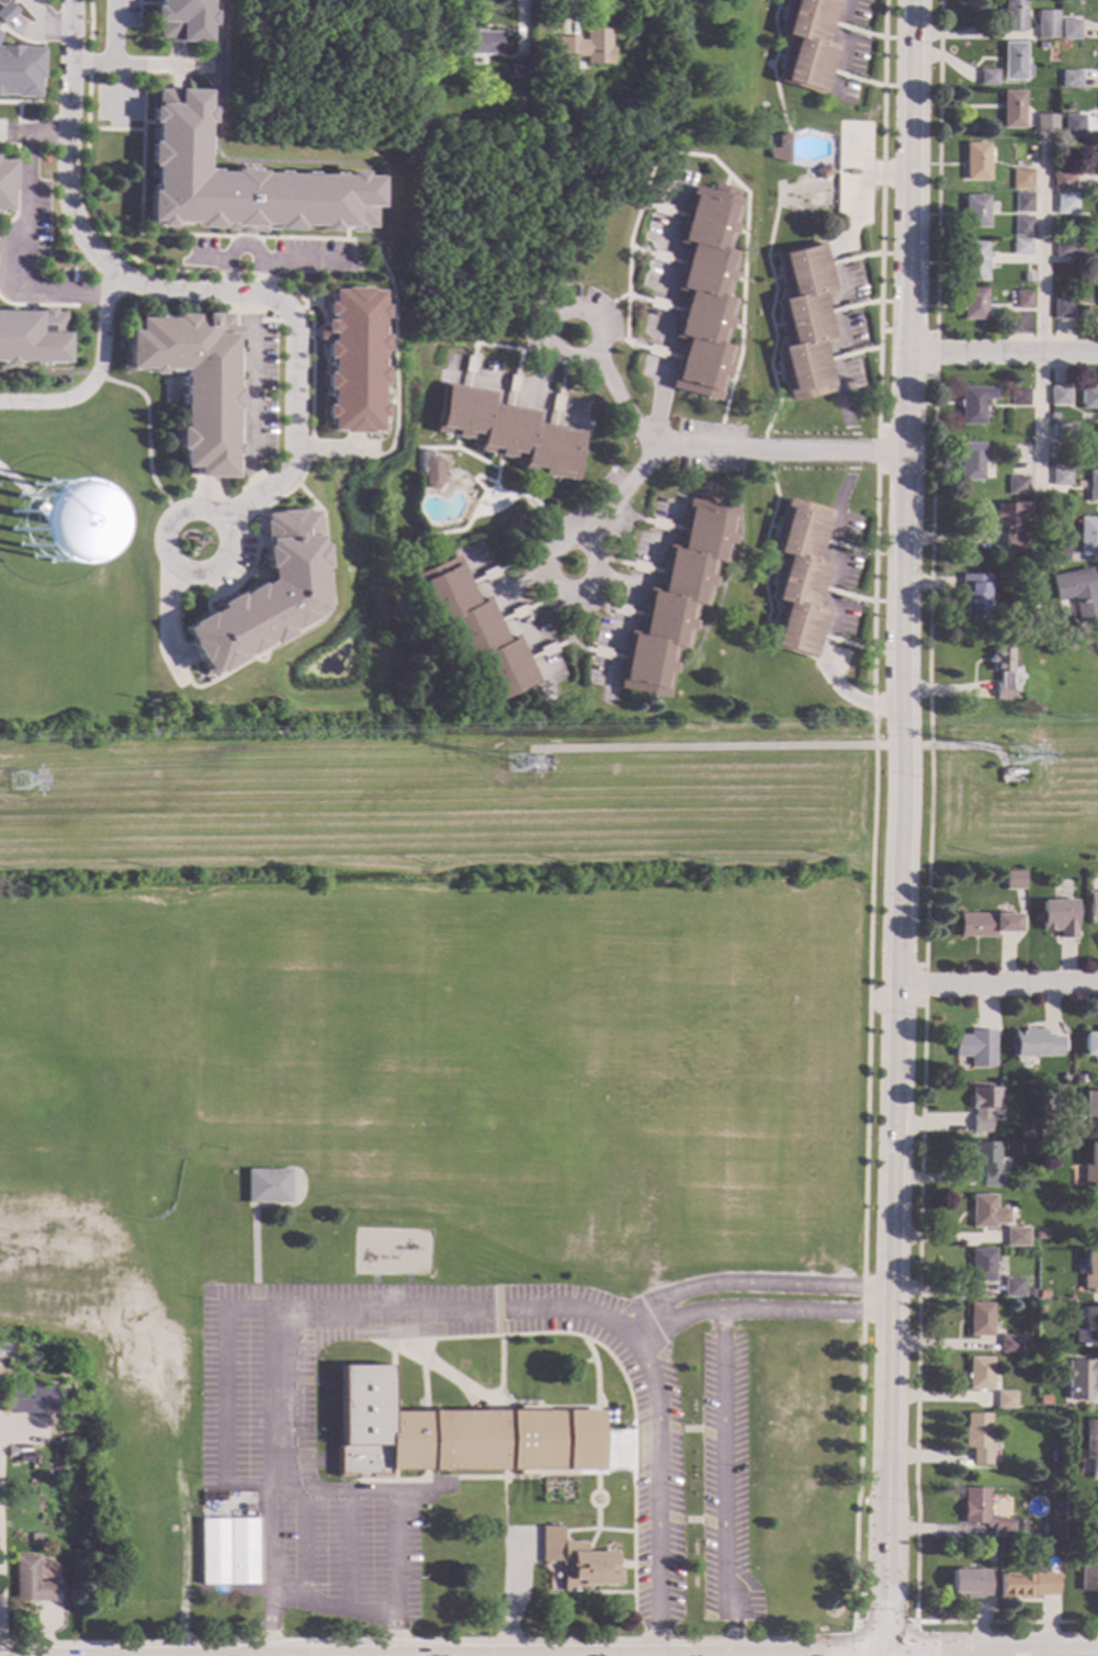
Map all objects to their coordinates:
road: (148, 2)
road: (8, 8)
road: (781, 9)
road: (35, 12)
building: (4, 13)
road: (138, 13)
building: (1014, 14)
building: (183, 20)
building: (1046, 22)
road: (59, 25)
road: (21, 27)
building: (1068, 27)
building: (476, 43)
building: (807, 44)
building: (1042, 44)
road: (845, 45)
building: (586, 46)
road: (217, 55)
road: (780, 56)
road: (113, 60)
building: (1015, 60)
road: (92, 65)
road: (165, 66)
road: (182, 66)
building: (522, 66)
road: (771, 66)
road: (41, 67)
building: (19, 72)
building: (987, 76)
building: (1069, 78)
building: (1011, 109)
road: (33, 119)
building: (1044, 123)
building: (1073, 124)
road: (114, 128)
road: (13, 132)
road: (16, 133)
building: (1059, 142)
building: (781, 150)
building: (975, 160)
road: (937, 166)
building: (823, 172)
road: (834, 172)
road: (849, 173)
road: (886, 173)
road: (816, 176)
building: (1020, 178)
road: (725, 180)
road: (734, 180)
building: (1062, 180)
building: (241, 182)
building: (4, 183)
road: (15, 189)
building: (1022, 202)
building: (1064, 202)
building: (974, 210)
road: (881, 218)
building: (1021, 225)
road: (26, 226)
road: (740, 232)
road: (329, 237)
building: (989, 241)
building: (1096, 241)
building: (1020, 246)
building: (1065, 246)
road: (239, 248)
road: (319, 255)
building: (973, 258)
road: (207, 260)
road: (306, 264)
road: (837, 274)
building: (1025, 275)
road: (777, 278)
road: (280, 279)
road: (738, 279)
building: (706, 291)
building: (1097, 291)
road: (183, 292)
road: (319, 293)
building: (1022, 298)
road: (607, 303)
building: (972, 303)
road: (37, 304)
building: (1062, 307)
road: (672, 311)
road: (293, 313)
road: (1042, 317)
road: (264, 319)
building: (804, 323)
road: (776, 325)
road: (735, 326)
road: (772, 328)
road: (235, 330)
road: (929, 331)
road: (254, 333)
building: (32, 336)
road: (610, 339)
road: (512, 349)
road: (1004, 351)
road: (394, 352)
road: (561, 356)
building: (354, 360)
road: (729, 373)
road: (776, 373)
road: (95, 374)
road: (540, 375)
building: (195, 383)
road: (137, 390)
building: (1059, 394)
road: (249, 395)
building: (1089, 396)
building: (1019, 397)
road: (620, 398)
road: (514, 401)
building: (974, 403)
building: (1053, 415)
building: (1063, 429)
building: (509, 432)
building: (1095, 439)
road: (355, 441)
road: (455, 442)
road: (333, 448)
road: (442, 448)
road: (722, 448)
road: (431, 450)
road: (883, 452)
building: (973, 461)
building: (429, 470)
road: (813, 470)
road: (475, 476)
building: (1061, 476)
road: (12, 480)
road: (471, 480)
building: (1016, 484)
building: (1093, 486)
road: (539, 487)
road: (210, 494)
road: (511, 494)
road: (520, 496)
road: (622, 511)
water tower: (45, 514)
building: (1041, 523)
building: (1008, 525)
road: (772, 527)
building: (1088, 534)
road: (765, 539)
road: (736, 540)
building: (1059, 550)
road: (525, 562)
road: (733, 567)
road: (214, 568)
road: (399, 574)
road: (771, 574)
building: (800, 579)
road: (615, 582)
road: (517, 583)
road: (550, 584)
road: (717, 584)
building: (1077, 590)
road: (592, 592)
building: (975, 592)
road: (547, 595)
building: (262, 597)
road: (637, 597)
building: (675, 598)
road: (416, 607)
road: (834, 613)
road: (163, 622)
road: (315, 622)
road: (570, 622)
road: (506, 624)
road: (699, 627)
building: (473, 629)
road: (563, 642)
road: (442, 645)
road: (180, 657)
road: (929, 669)
building: (1003, 671)
building: (1038, 709)
road: (767, 745)
power tower: (1016, 762)
power tower: (511, 769)
power tower: (19, 787)
road: (548, 799)
road: (901, 827)
building: (1009, 879)
building: (1091, 906)
building: (1055, 916)
building: (984, 923)
park: (10, 971)
park: (69, 972)
road: (924, 984)
road: (997, 987)
park: (159, 998)
park: (269, 1014)
park: (389, 1027)
park: (535, 1041)
building: (1088, 1041)
building: (1032, 1043)
building: (974, 1046)
road: (865, 1047)
building: (1061, 1077)
building: (1088, 1103)
building: (981, 1105)
park: (10, 1116)
park: (58, 1116)
building: (1026, 1133)
building: (1023, 1149)
park: (121, 1152)
building: (986, 1161)
building: (1090, 1163)
building: (267, 1186)
building: (986, 1210)
road: (251, 1218)
building: (1040, 1233)
building: (1008, 1235)
building: (982, 1264)
building: (1090, 1271)
building: (1033, 1283)
building: (1014, 1286)
road: (281, 1310)
road: (498, 1310)
road: (677, 1317)
building: (980, 1318)
building: (1087, 1328)
building: (1012, 1343)
building: (1030, 1345)
road: (599, 1347)
road: (639, 1350)
road: (500, 1370)
building: (978, 1372)
road: (422, 1373)
road: (450, 1375)
building: (1082, 1377)
road: (304, 1379)
road: (223, 1397)
building: (1045, 1397)
road: (721, 1398)
building: (1005, 1399)
building: (27, 1400)
road: (916, 1405)
road: (561, 1407)
road: (644, 1412)
road: (689, 1430)
building: (453, 1433)
building: (977, 1437)
building: (1090, 1443)
road: (603, 1445)
road: (618, 1452)
building: (20, 1455)
road: (645, 1475)
building: (1052, 1475)
road: (596, 1483)
road: (597, 1507)
road: (393, 1510)
building: (982, 1510)
road: (690, 1520)
building: (1017, 1527)
road: (644, 1528)
road: (593, 1529)
road: (595, 1530)
building: (35, 1537)
road: (301, 1546)
road: (347, 1551)
building: (212, 1552)
building: (240, 1552)
building: (988, 1554)
building: (576, 1561)
building: (1089, 1573)
building: (31, 1581)
building: (969, 1581)
building: (1027, 1584)
road: (644, 1588)
road: (608, 1592)
road: (513, 1593)
road: (330, 1608)
road: (912, 1624)
road: (883, 1627)
road: (548, 1654)
road: (327, 1655)
road: (964, 1655)

